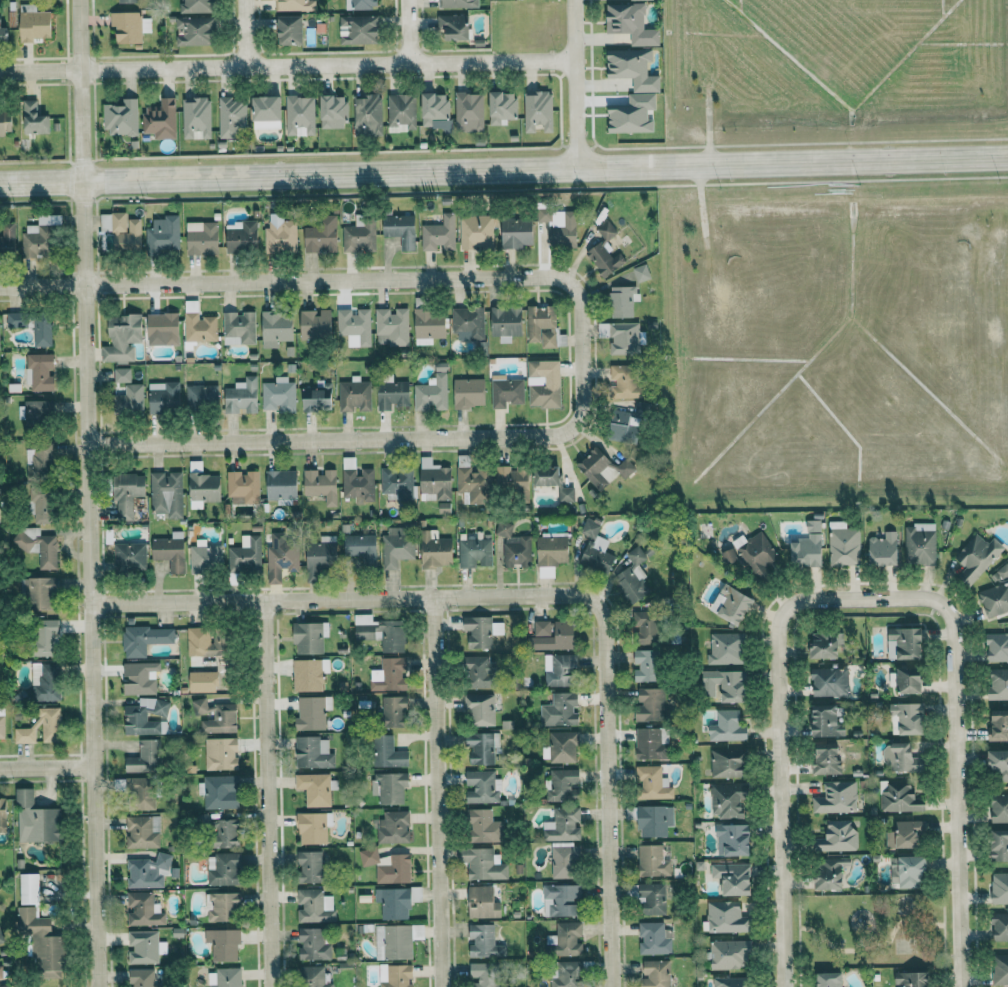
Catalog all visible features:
building: (642, 0)
building: (127, 1)
building: (361, 4)
building: (457, 4)
building: (293, 5)
building: (196, 6)
building: (34, 24)
building: (631, 24)
building: (454, 26)
building: (129, 27)
building: (291, 30)
building: (358, 30)
building: (193, 31)
road: (407, 31)
road: (245, 32)
building: (3, 35)
road: (327, 63)
road: (39, 68)
building: (633, 69)
road: (576, 85)
building: (502, 107)
building: (436, 111)
building: (537, 111)
building: (333, 112)
building: (469, 112)
building: (267, 113)
building: (368, 115)
building: (300, 116)
building: (231, 117)
building: (120, 118)
building: (196, 118)
building: (33, 119)
building: (160, 120)
building: (5, 122)
road: (504, 173)
building: (546, 216)
building: (401, 230)
building: (606, 230)
building: (122, 231)
building: (438, 231)
building: (476, 232)
building: (563, 232)
building: (516, 233)
building: (163, 235)
building: (280, 235)
building: (241, 236)
building: (322, 236)
building: (359, 236)
building: (7, 237)
building: (202, 238)
building: (34, 242)
building: (603, 256)
building: (641, 273)
road: (330, 283)
building: (621, 302)
building: (16, 320)
building: (506, 323)
building: (468, 324)
building: (316, 325)
building: (354, 326)
building: (541, 326)
building: (391, 327)
building: (427, 327)
building: (199, 328)
building: (276, 328)
building: (163, 329)
building: (238, 329)
building: (42, 332)
building: (620, 337)
building: (122, 338)
building: (40, 372)
building: (121, 375)
building: (624, 382)
building: (544, 384)
building: (432, 391)
building: (506, 391)
building: (469, 393)
building: (278, 395)
building: (354, 395)
building: (392, 395)
building: (201, 396)
building: (241, 397)
building: (163, 398)
building: (129, 399)
building: (317, 399)
building: (38, 413)
building: (624, 426)
road: (364, 444)
building: (38, 460)
building: (434, 481)
building: (357, 482)
building: (397, 482)
building: (513, 482)
building: (553, 482)
building: (474, 483)
building: (281, 485)
building: (321, 485)
building: (243, 487)
building: (203, 489)
road: (87, 493)
building: (127, 493)
building: (166, 494)
building: (41, 505)
building: (443, 507)
building: (36, 545)
building: (514, 545)
building: (843, 545)
building: (808, 546)
building: (919, 546)
building: (396, 547)
building: (361, 548)
building: (596, 548)
building: (884, 549)
building: (435, 550)
building: (170, 551)
building: (245, 554)
building: (551, 554)
building: (635, 555)
building: (129, 556)
building: (205, 556)
building: (281, 556)
building: (321, 556)
building: (976, 556)
building: (759, 557)
building: (629, 585)
building: (38, 593)
building: (995, 594)
road: (344, 599)
building: (732, 603)
building: (646, 625)
building: (481, 630)
building: (380, 632)
building: (552, 635)
building: (44, 636)
building: (309, 637)
building: (144, 639)
building: (905, 642)
building: (827, 644)
building: (997, 647)
building: (725, 648)
building: (647, 665)
building: (559, 670)
building: (480, 672)
building: (308, 674)
building: (389, 675)
building: (140, 678)
building: (910, 679)
building: (829, 681)
building: (44, 682)
building: (725, 684)
building: (998, 684)
building: (650, 704)
building: (480, 710)
building: (560, 710)
building: (394, 711)
building: (143, 716)
building: (216, 716)
building: (909, 717)
building: (826, 721)
building: (999, 725)
building: (727, 726)
building: (41, 728)
building: (650, 744)
building: (481, 748)
building: (387, 752)
building: (220, 753)
building: (312, 753)
building: (903, 757)
road: (958, 757)
building: (144, 758)
road: (781, 758)
building: (826, 758)
building: (727, 762)
building: (999, 765)
road: (46, 769)
building: (652, 783)
building: (563, 784)
building: (391, 787)
building: (481, 787)
building: (314, 788)
building: (219, 792)
road: (436, 792)
road: (266, 794)
road: (608, 794)
building: (143, 795)
building: (901, 797)
building: (836, 798)
building: (728, 800)
building: (999, 808)
building: (2, 814)
building: (35, 819)
building: (654, 820)
building: (563, 825)
building: (484, 826)
building: (313, 827)
building: (393, 828)
building: (142, 831)
building: (224, 833)
building: (905, 833)
building: (838, 836)
building: (733, 839)
building: (999, 845)
building: (564, 860)
building: (653, 860)
building: (482, 863)
building: (310, 866)
building: (387, 866)
building: (222, 869)
building: (147, 871)
building: (909, 871)
building: (831, 872)
building: (733, 877)
building: (29, 888)
building: (1000, 888)
building: (653, 897)
building: (562, 899)
building: (393, 902)
building: (482, 902)
building: (222, 906)
building: (315, 906)
building: (143, 909)
building: (727, 917)
building: (55, 925)
building: (1000, 926)
building: (1, 939)
building: (566, 939)
building: (653, 939)
building: (484, 941)
building: (393, 942)
building: (42, 943)
building: (223, 944)
building: (313, 944)
building: (144, 947)
building: (730, 955)
building: (1000, 969)
building: (0, 972)
building: (567, 974)
building: (656, 974)
building: (395, 975)
building: (226, 977)
building: (314, 977)
building: (142, 978)
building: (829, 979)
building: (912, 979)
building: (732, 982)
building: (4, 985)

